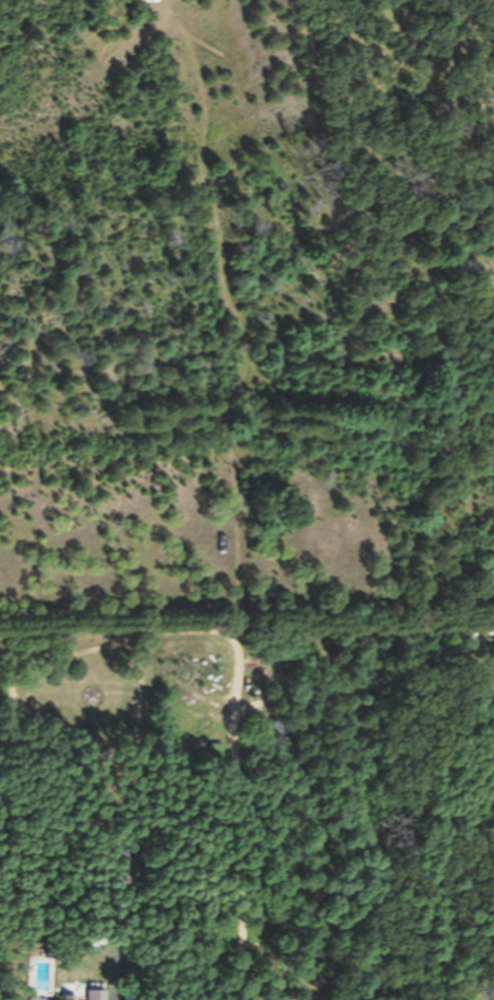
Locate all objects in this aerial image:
road: (238, 843)

